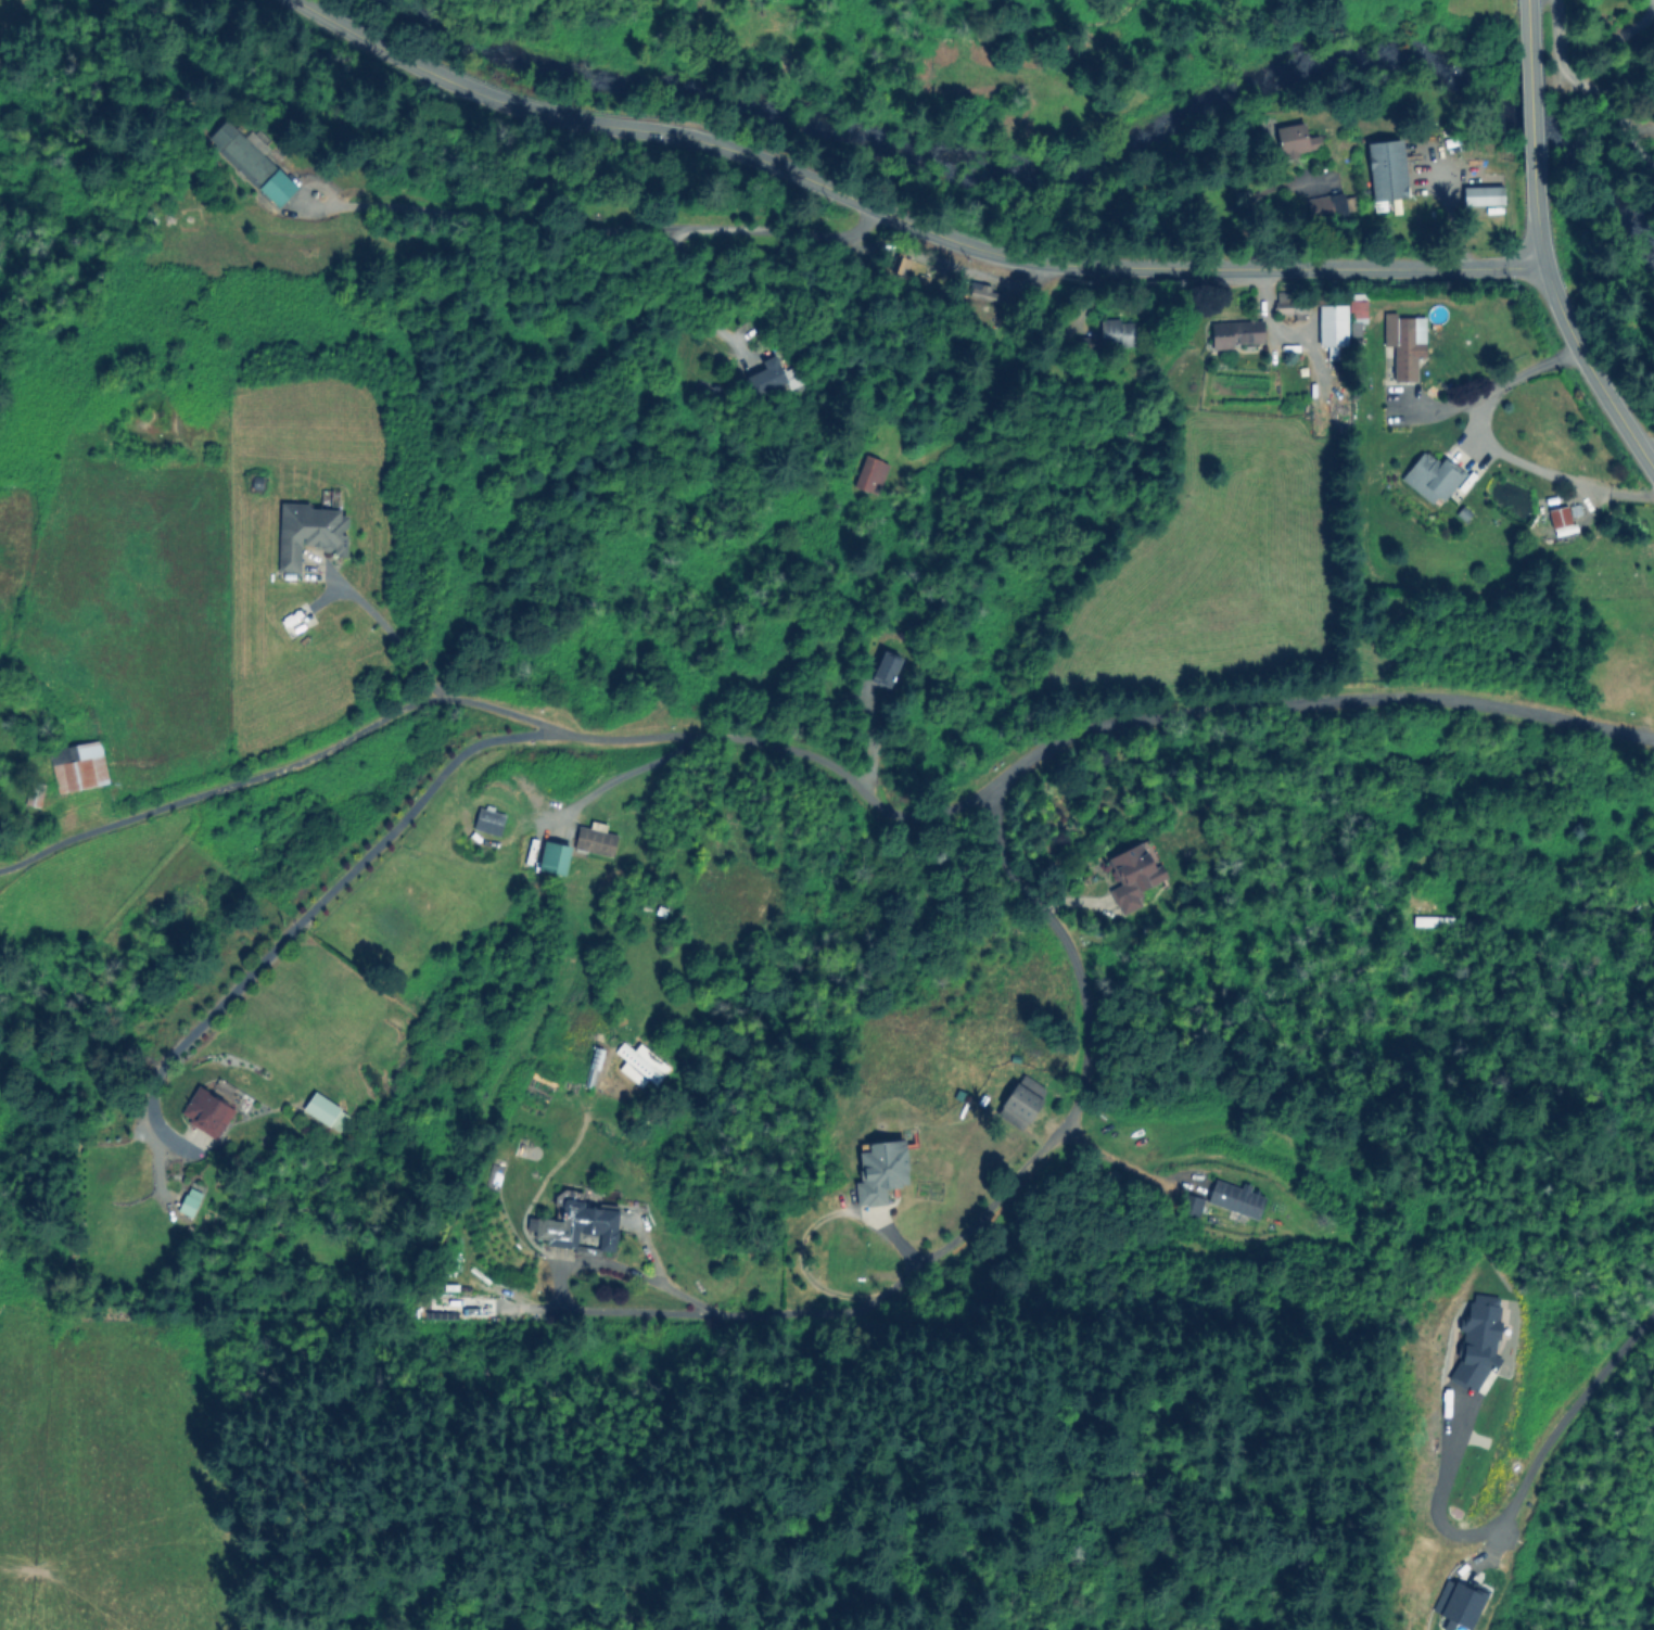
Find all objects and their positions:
road: (1587, 69)
road: (1530, 111)
building: (1296, 140)
building: (241, 151)
building: (1386, 171)
building: (277, 187)
building: (1481, 194)
building: (1324, 204)
road: (901, 218)
road: (608, 230)
road: (1539, 242)
road: (691, 302)
building: (1356, 305)
building: (1331, 328)
building: (1117, 331)
building: (1235, 333)
building: (1403, 342)
road: (1586, 371)
building: (771, 375)
road: (1649, 451)
road: (1498, 453)
building: (869, 473)
building: (1430, 475)
building: (1557, 512)
building: (308, 533)
road: (391, 634)
building: (885, 670)
road: (1311, 701)
road: (720, 735)
building: (77, 765)
road: (625, 773)
road: (219, 787)
building: (487, 820)
building: (594, 839)
building: (554, 856)
building: (1132, 876)
road: (308, 909)
building: (639, 1064)
building: (583, 1070)
building: (1018, 1106)
building: (325, 1111)
road: (1116, 1160)
building: (880, 1170)
road: (1001, 1188)
building: (1235, 1198)
building: (188, 1200)
road: (811, 1223)
building: (582, 1225)
road: (639, 1275)
building: (454, 1307)
building: (1477, 1340)
road: (1518, 1488)
building: (1456, 1604)

